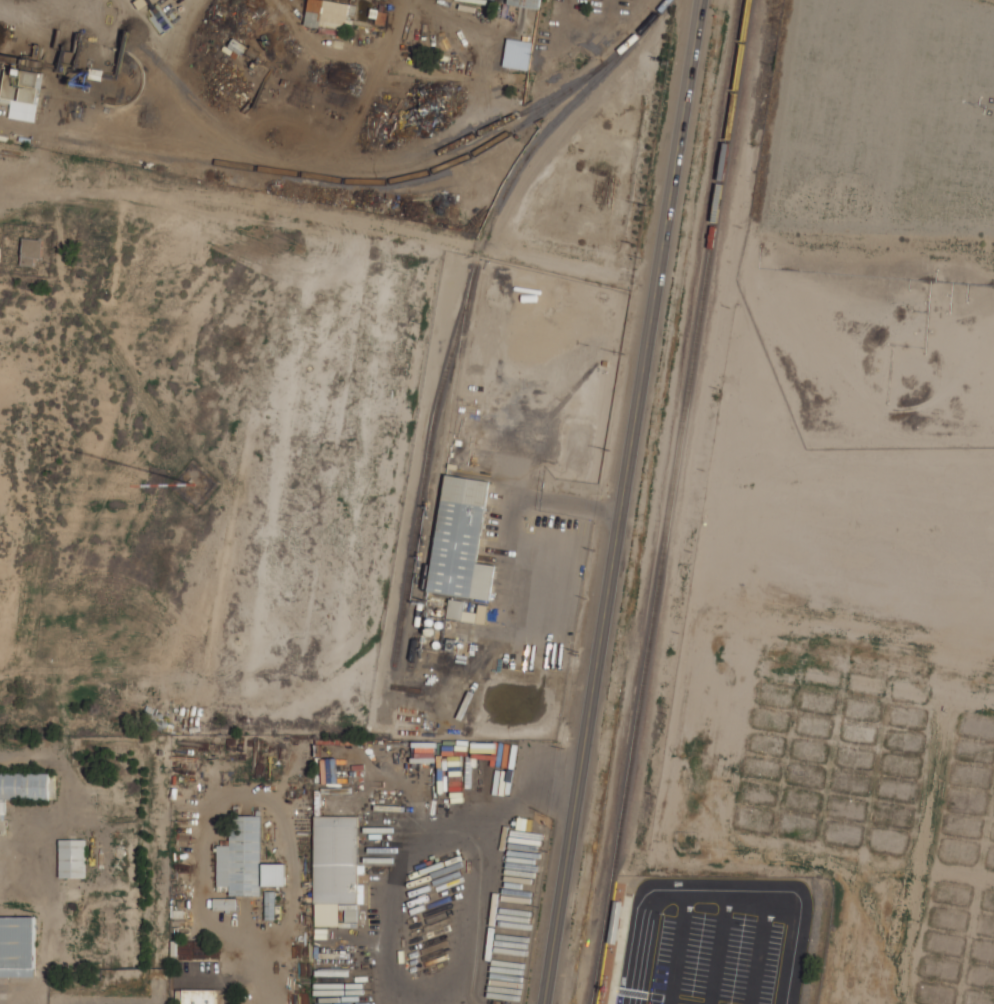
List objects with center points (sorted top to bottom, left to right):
building: (527, 3)
building: (328, 14)
building: (22, 85)
railway: (401, 174)
building: (32, 251)
railway: (465, 320)
road: (620, 501)
railway: (670, 501)
building: (462, 542)
building: (482, 619)
building: (23, 788)
building: (241, 858)
building: (73, 859)
building: (336, 866)
building: (274, 875)
railway: (623, 882)
road: (724, 893)
building: (226, 904)
building: (270, 906)
parking lot: (716, 942)
building: (17, 947)
road: (678, 948)
road: (718, 948)
road: (759, 949)
road: (246, 971)
road: (453, 988)
building: (199, 996)

